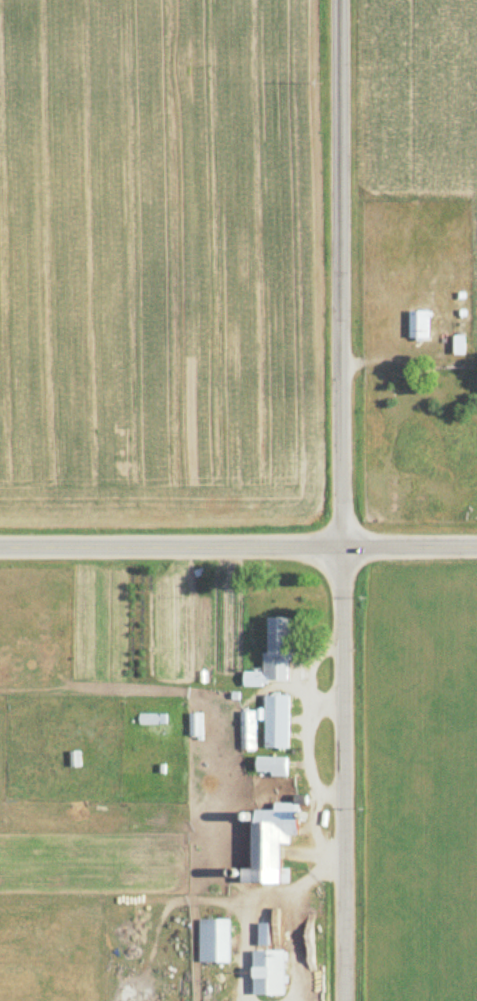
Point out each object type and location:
building: (418, 325)
road: (343, 500)
road: (238, 542)
building: (276, 648)
building: (151, 718)
building: (275, 720)
building: (194, 723)
building: (247, 729)
building: (270, 765)
building: (269, 842)
building: (212, 940)

